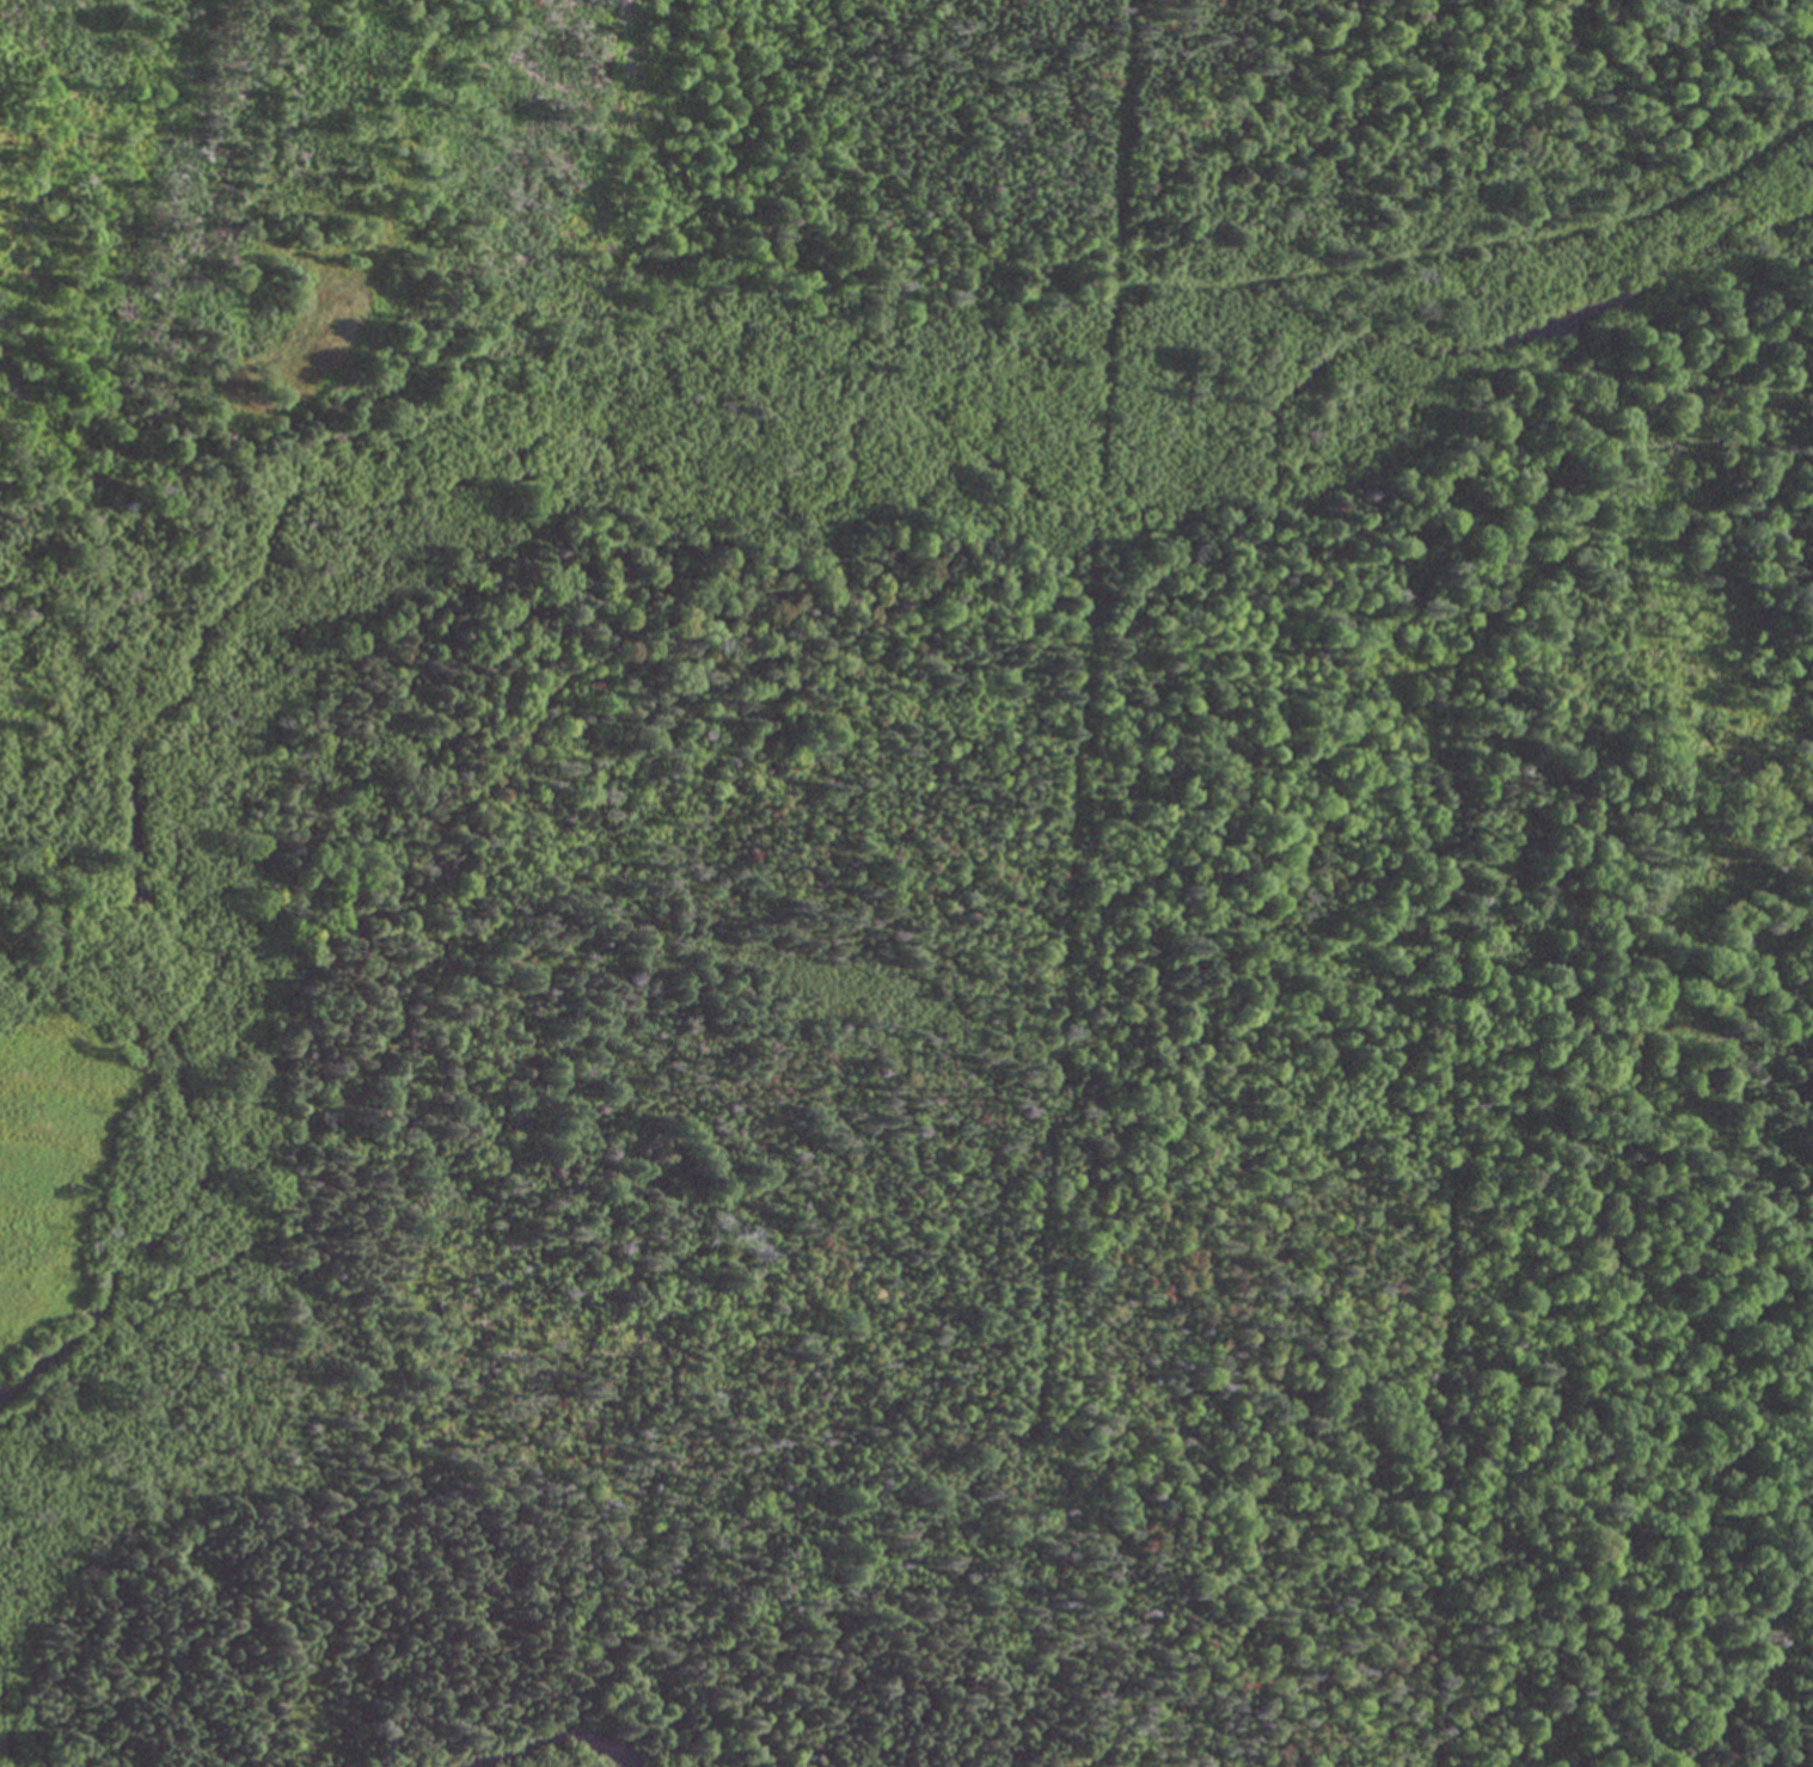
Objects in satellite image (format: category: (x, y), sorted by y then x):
crop: (18, 1129)
river: (539, 1741)

